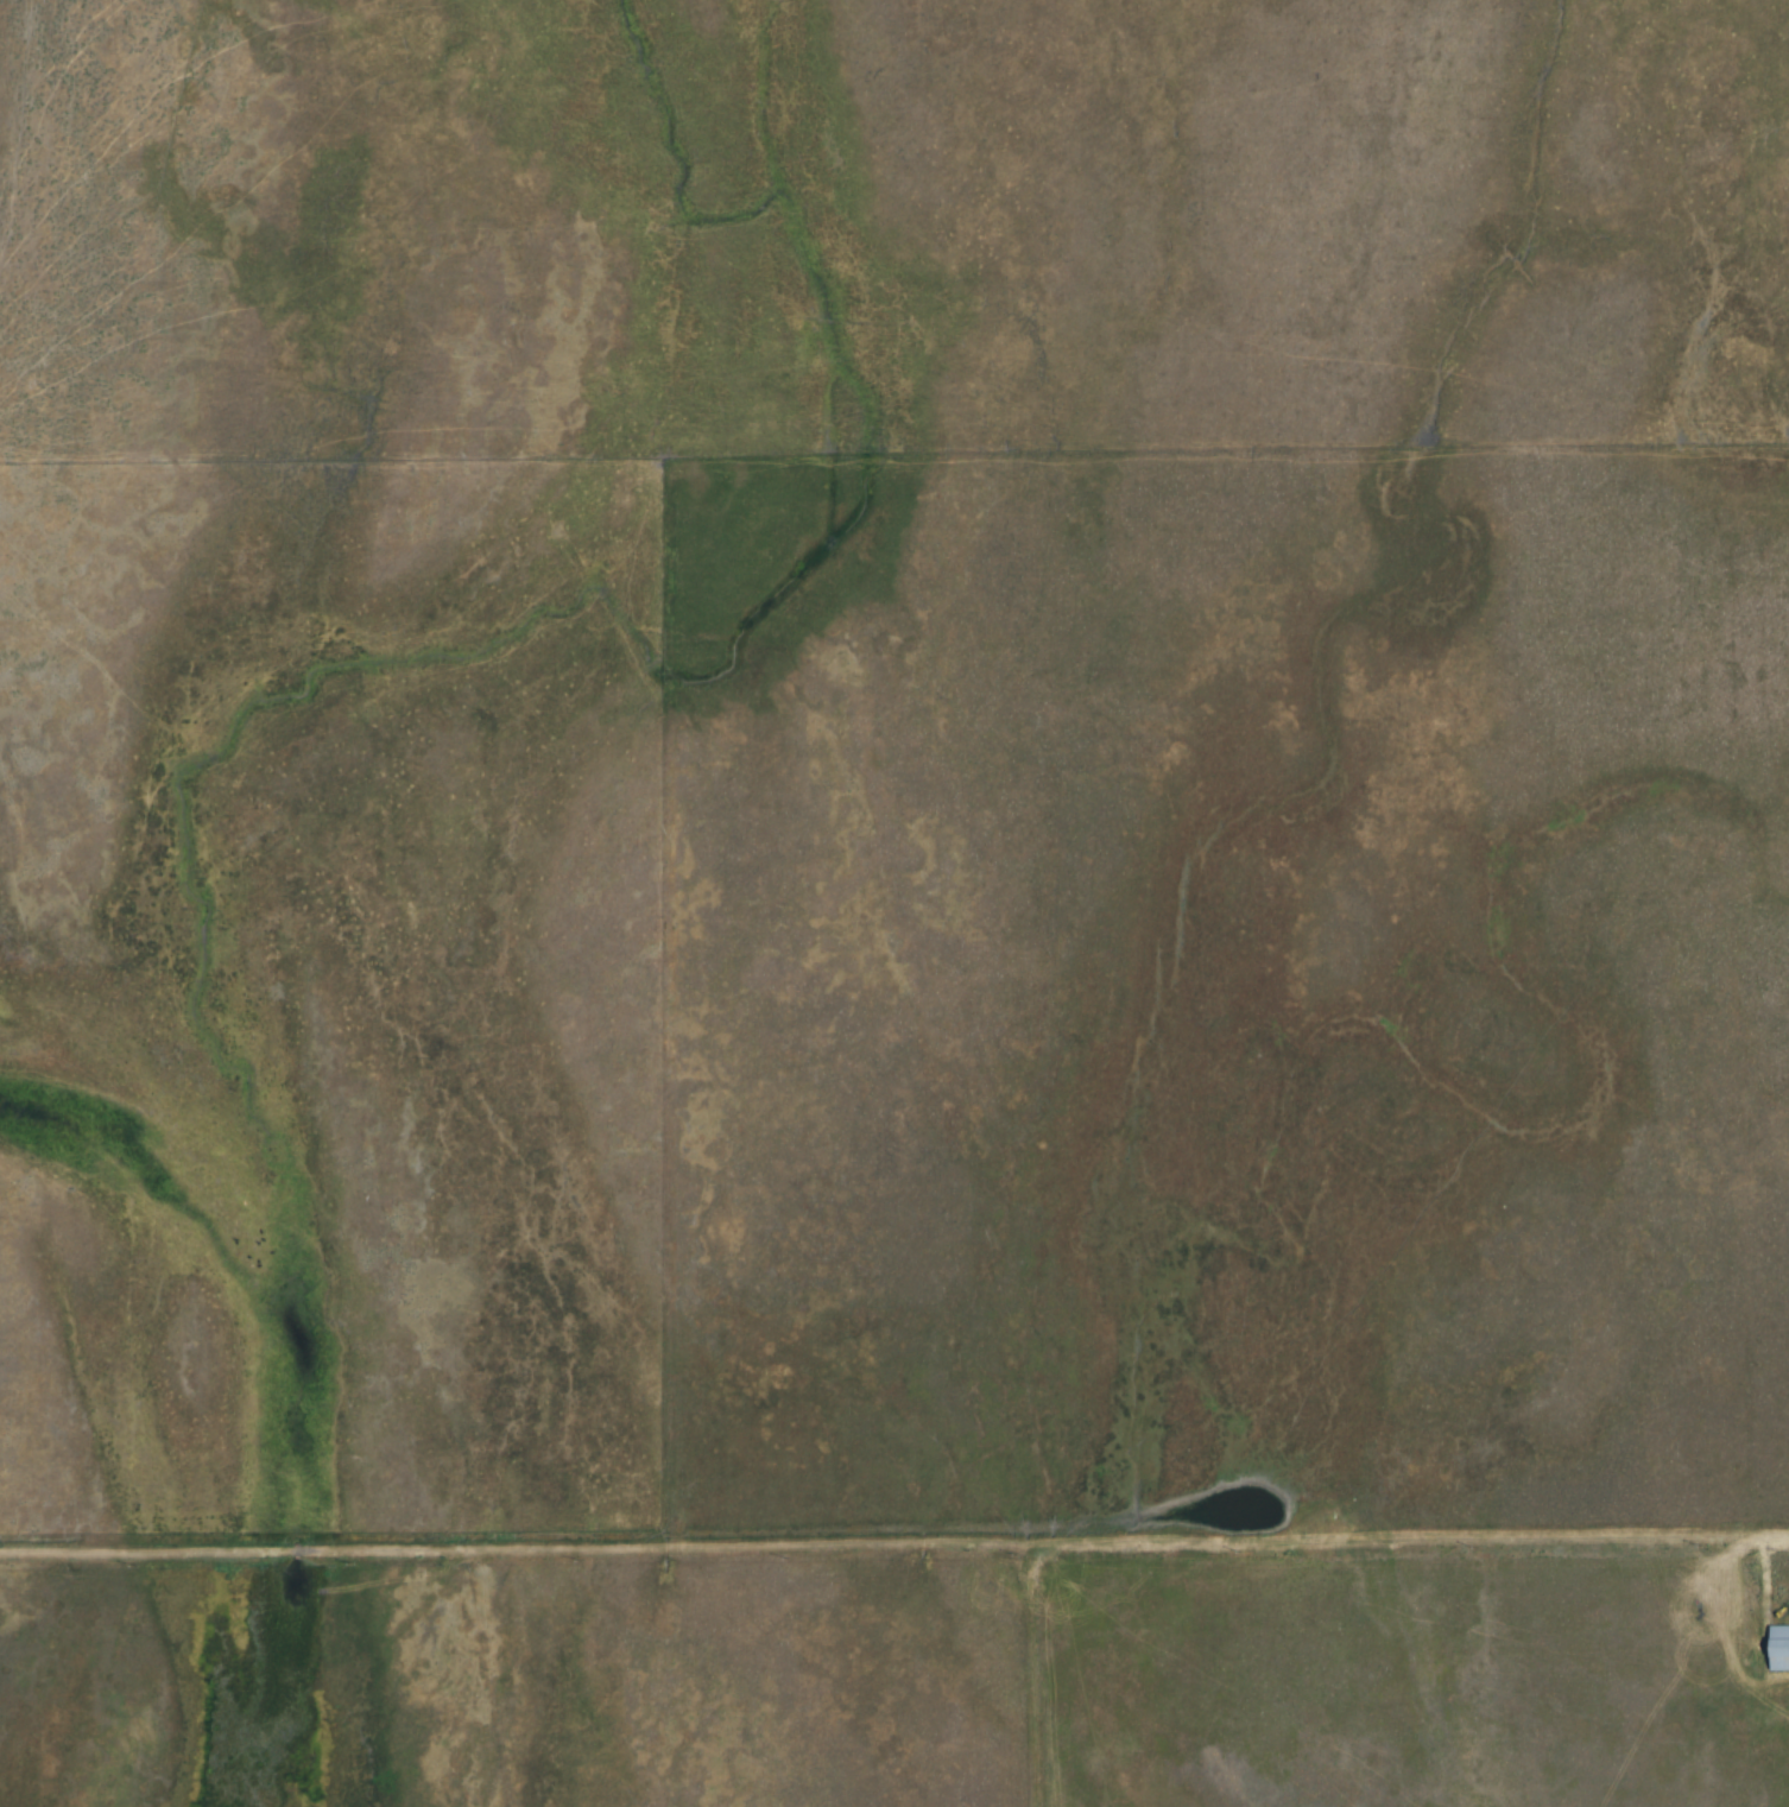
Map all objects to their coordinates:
crop: (1244, 997)
road: (894, 1546)
building: (1779, 1649)
crop: (1412, 1680)
crop: (688, 1692)

